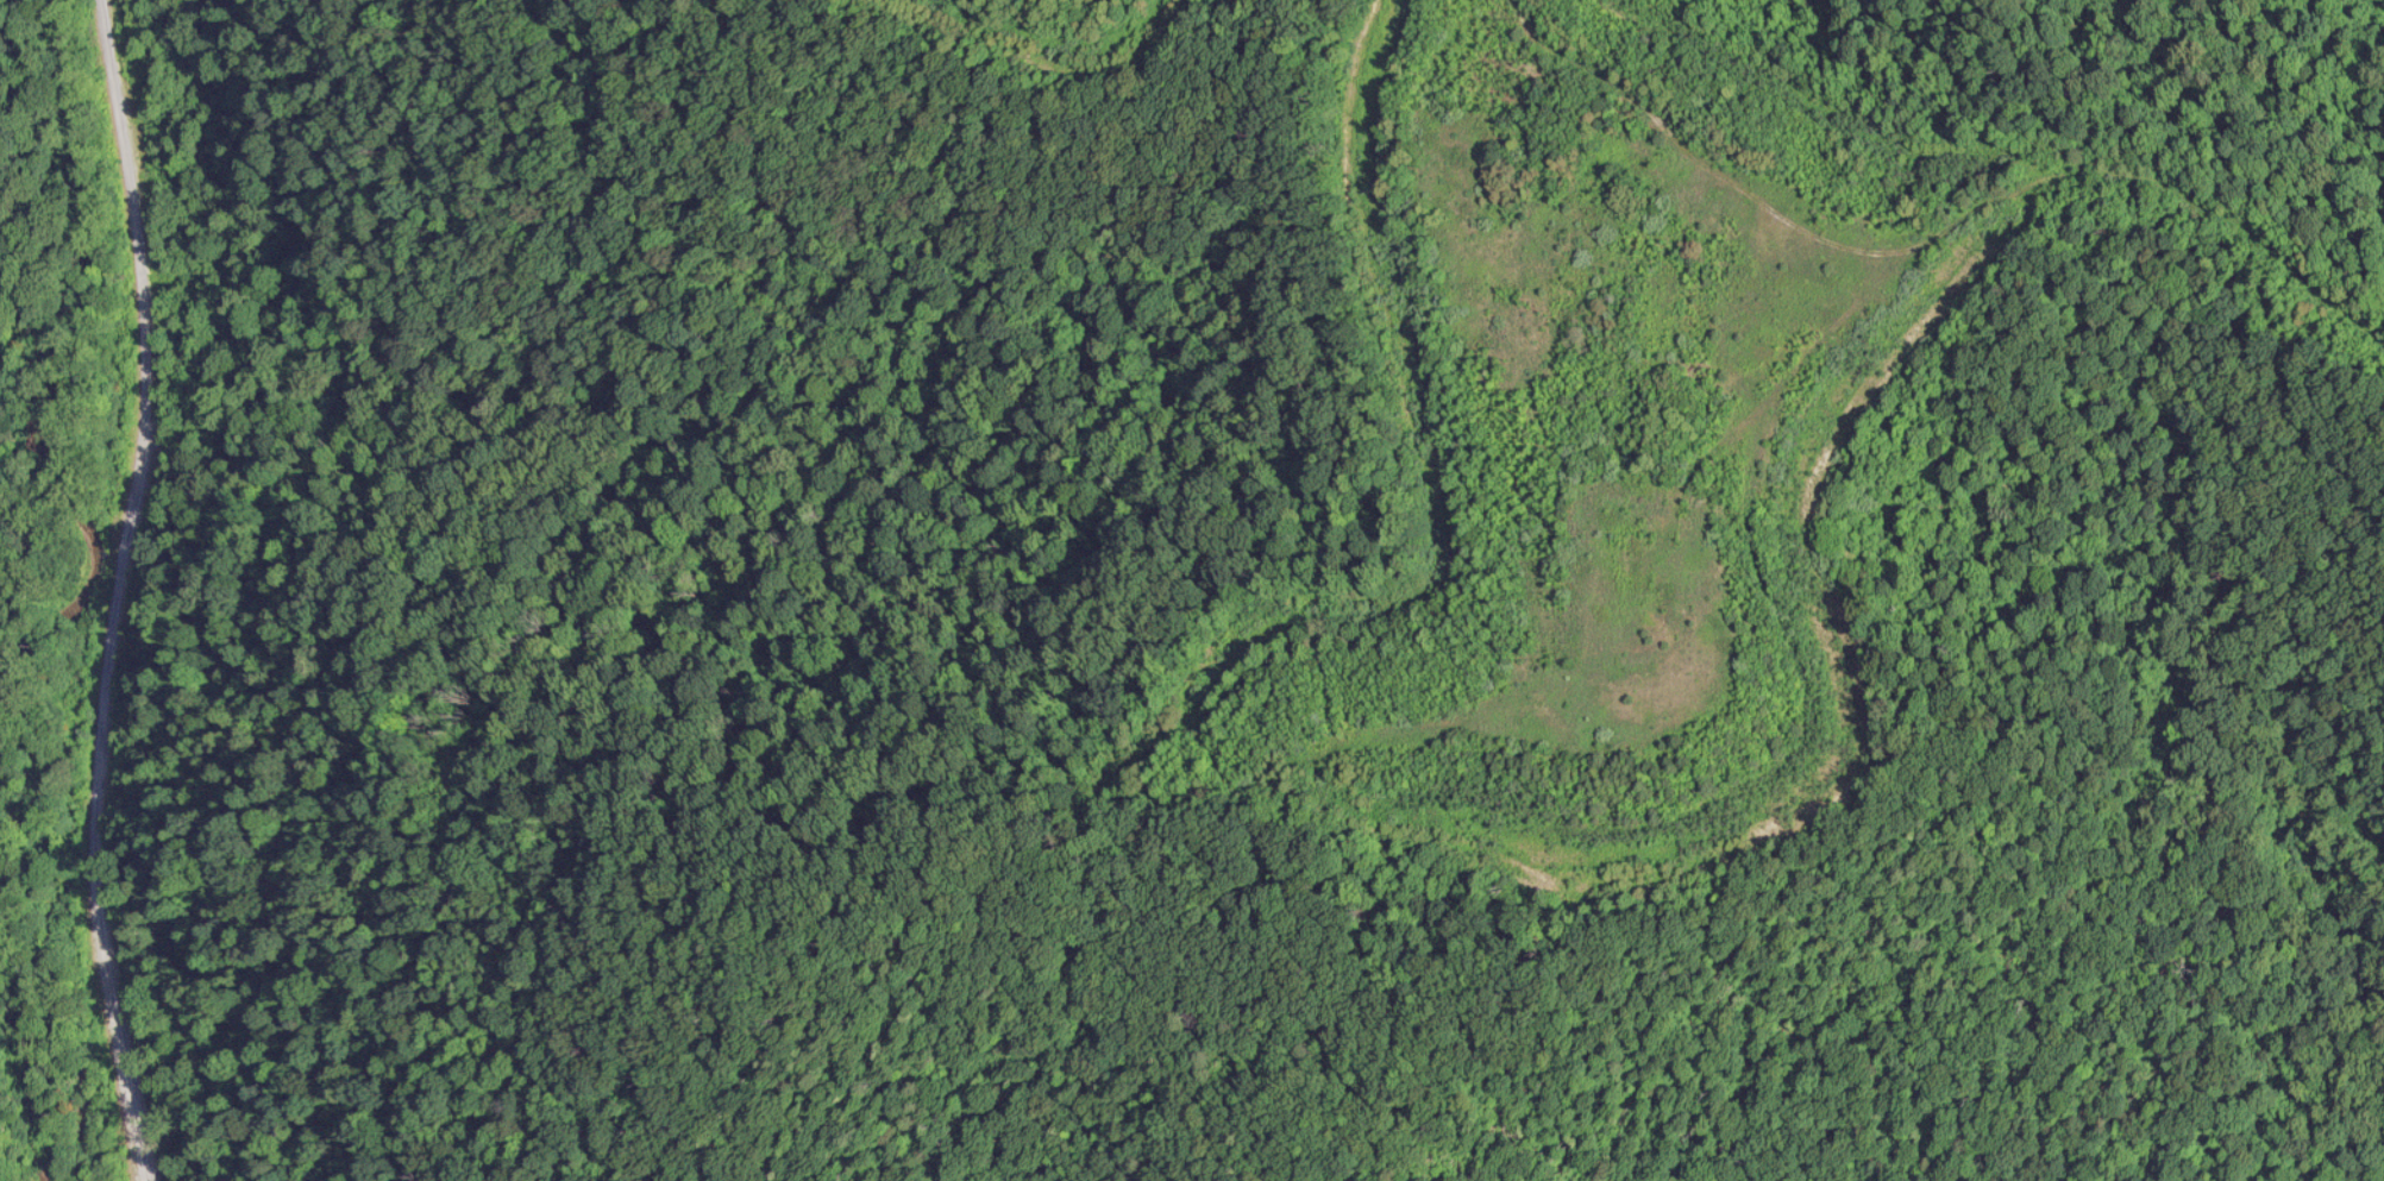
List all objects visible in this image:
road: (139, 591)
quarry: (251, 605)

